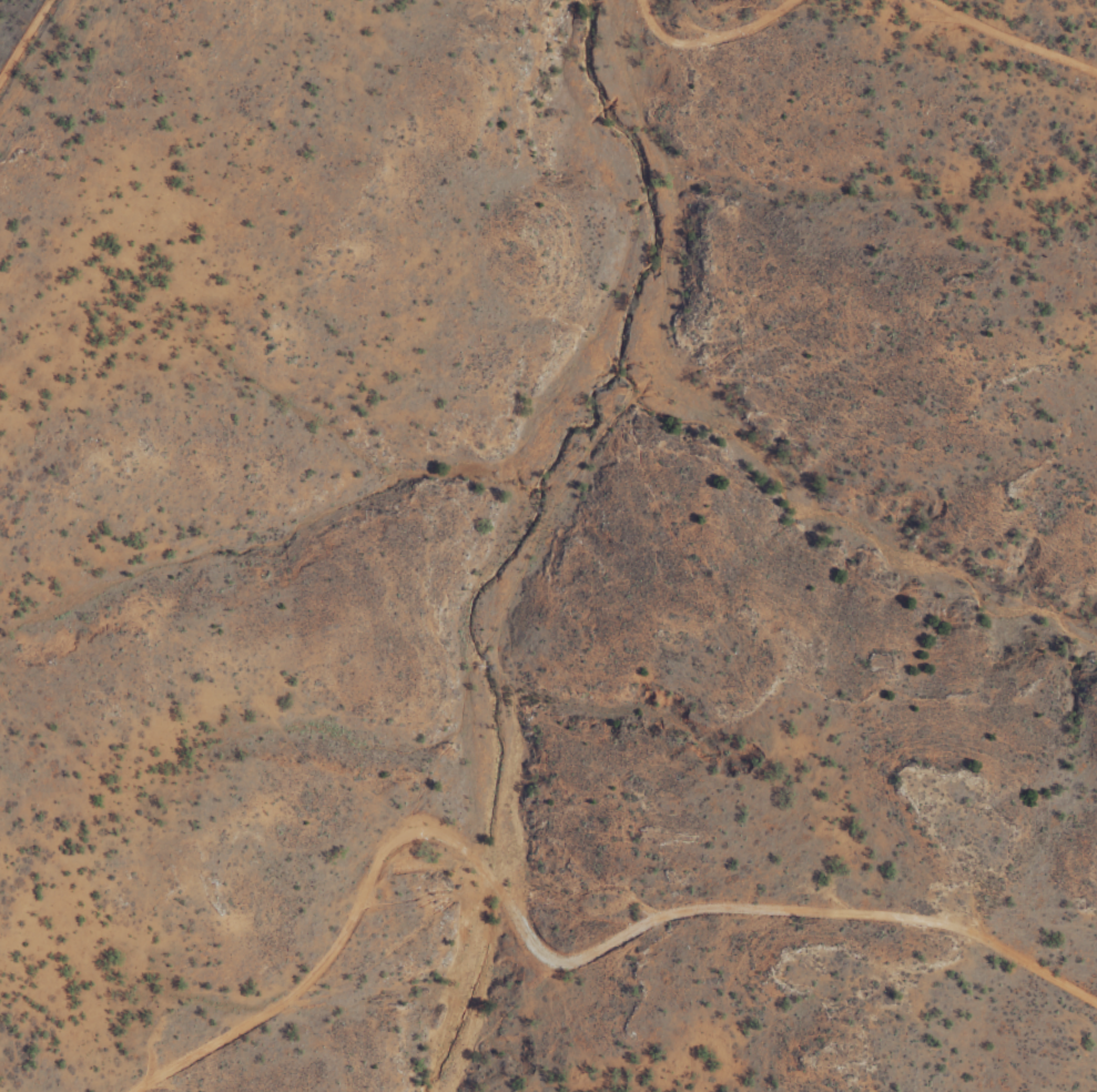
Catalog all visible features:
road: (710, 33)
road: (1016, 39)
road: (33, 47)
road: (570, 960)

